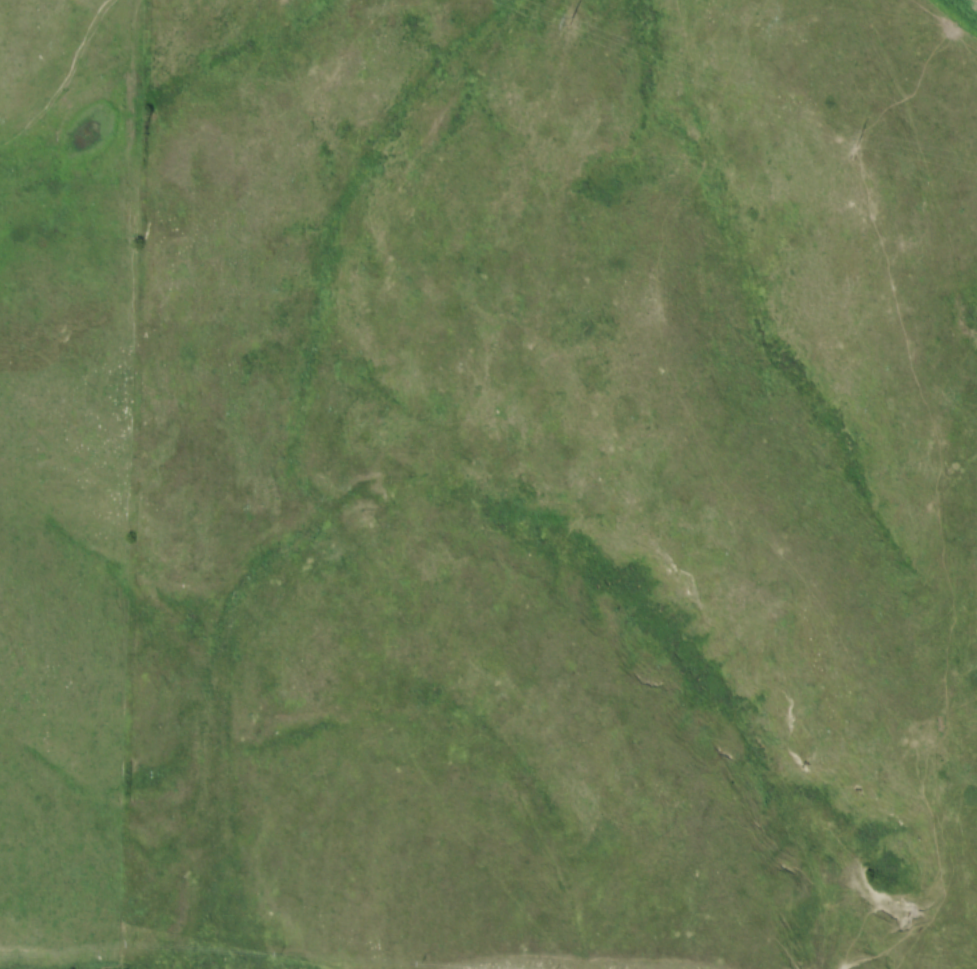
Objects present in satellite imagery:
power tower: (571, 14)
power tower: (861, 136)

